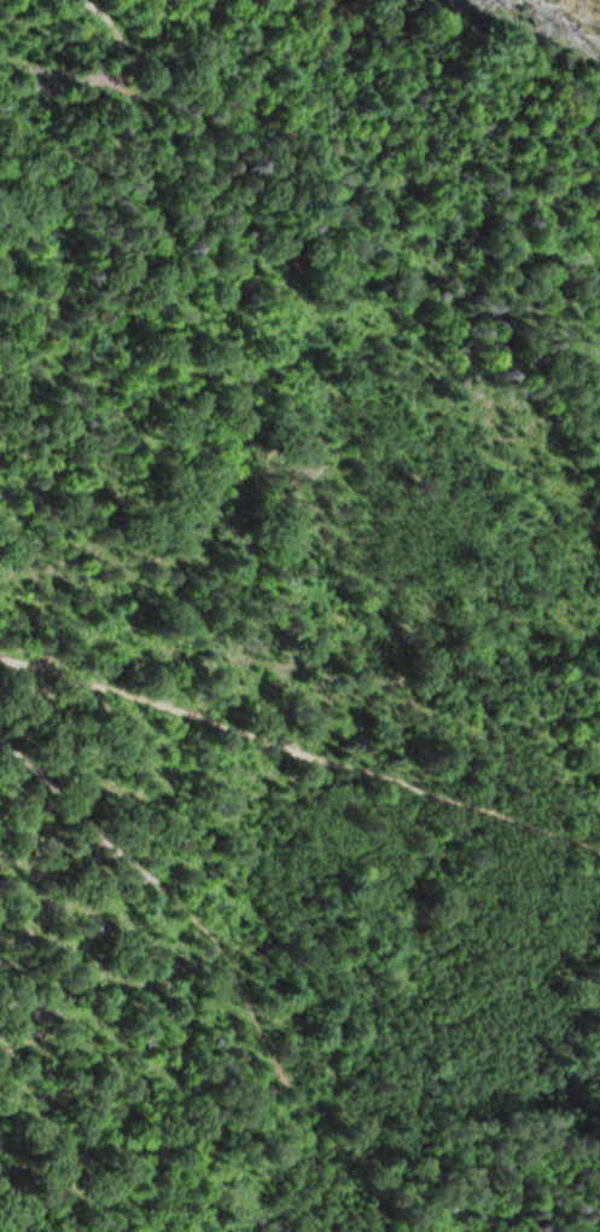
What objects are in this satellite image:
road: (301, 751)

